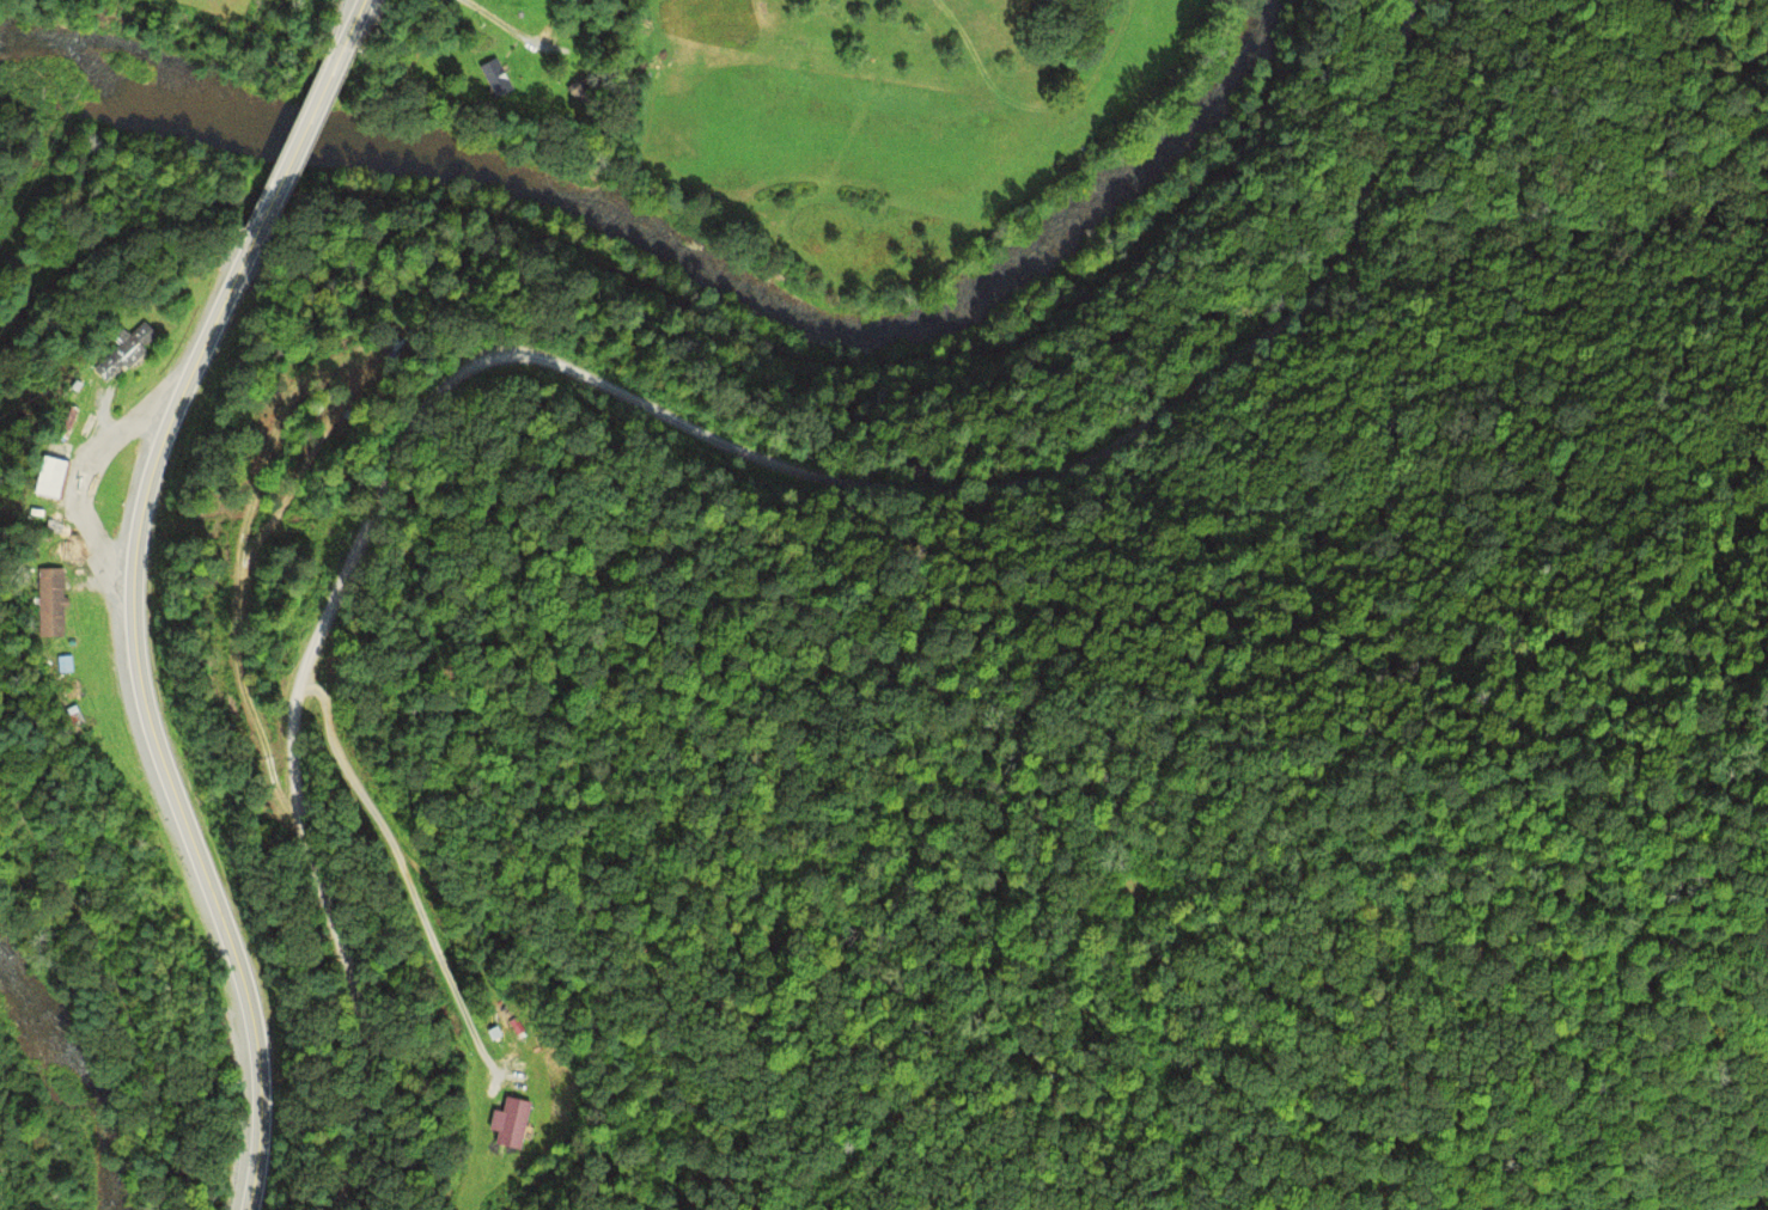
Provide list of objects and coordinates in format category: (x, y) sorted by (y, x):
road: (354, 24)
building: (499, 77)
road: (295, 146)
road: (742, 308)
building: (124, 353)
road: (658, 404)
building: (57, 421)
building: (43, 477)
road: (81, 482)
building: (49, 603)
building: (63, 661)
building: (73, 715)
road: (151, 726)
road: (117, 971)
building: (493, 1032)
building: (502, 1125)

